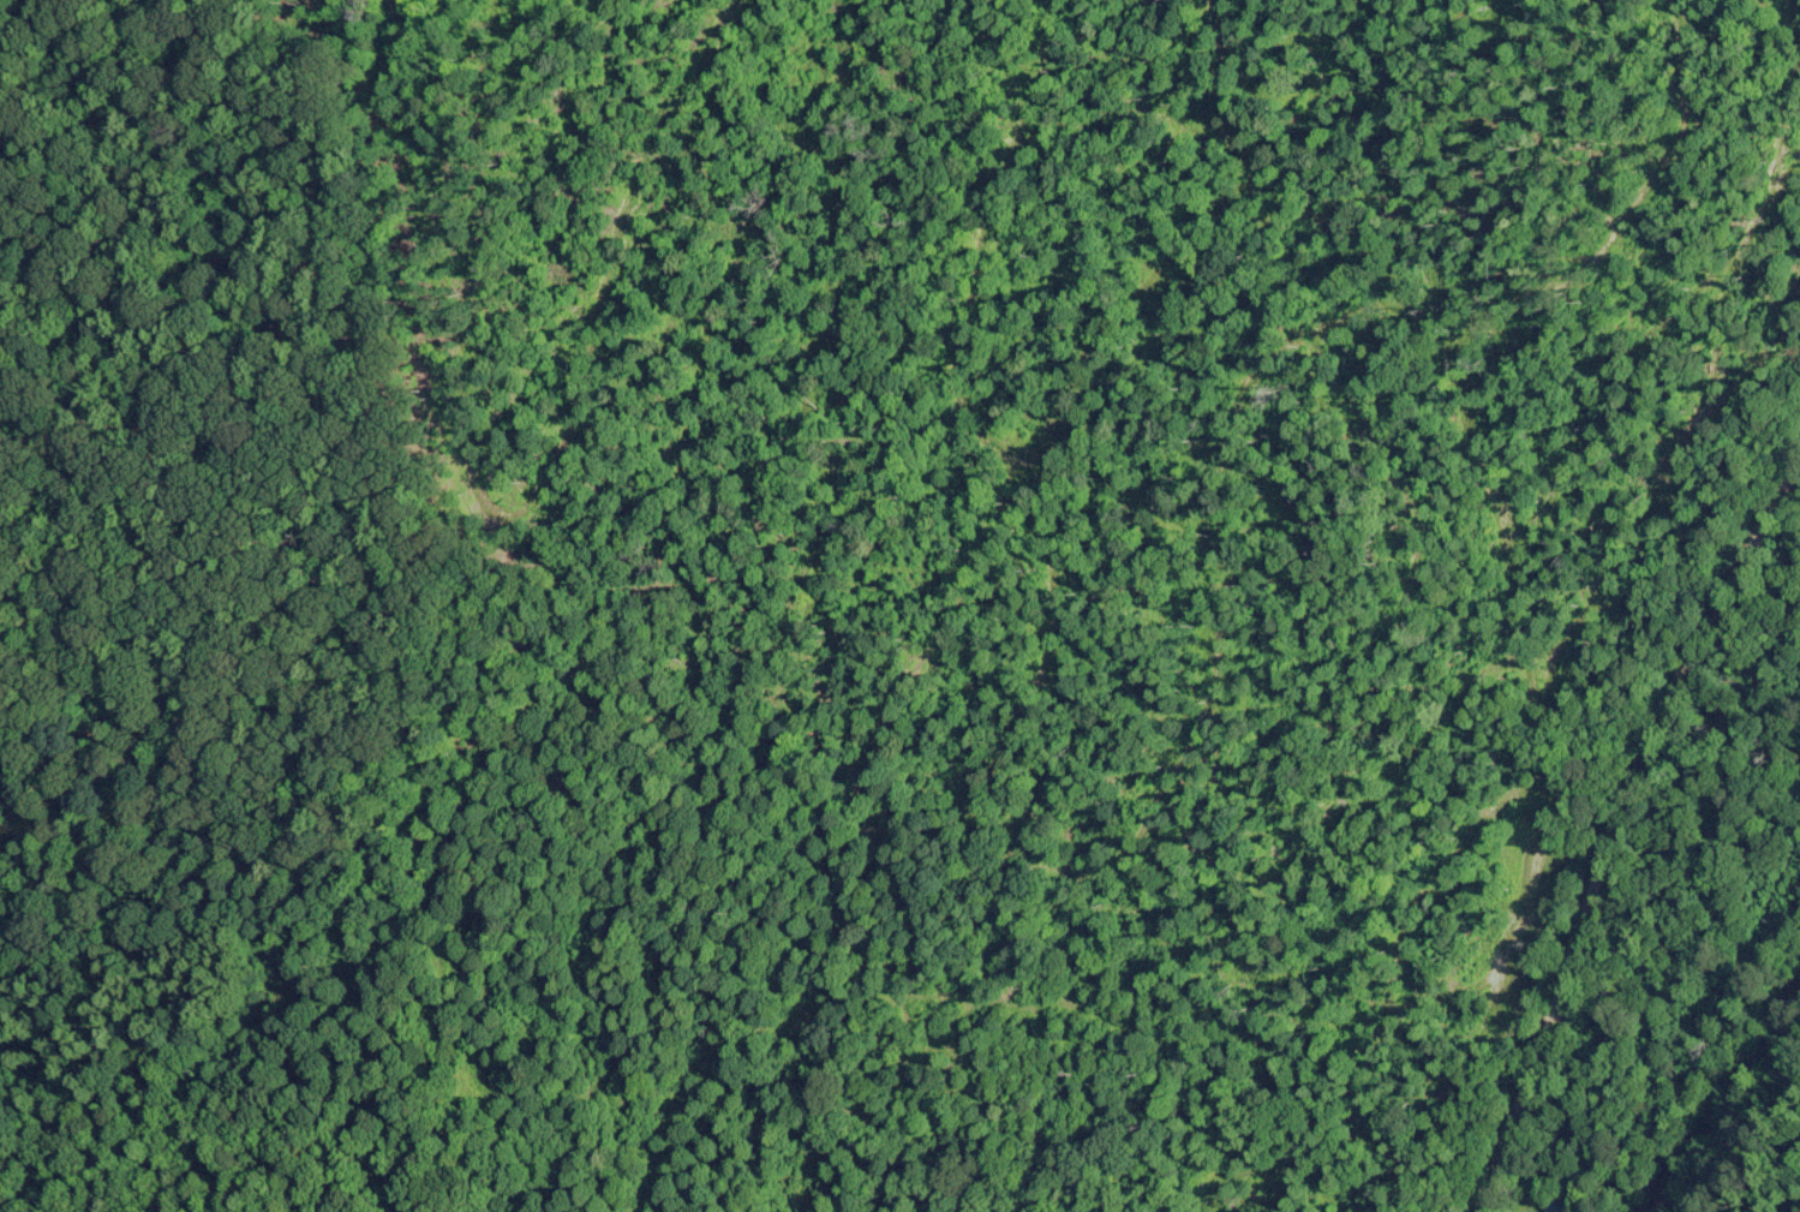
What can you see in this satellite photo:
road: (1619, 813)

